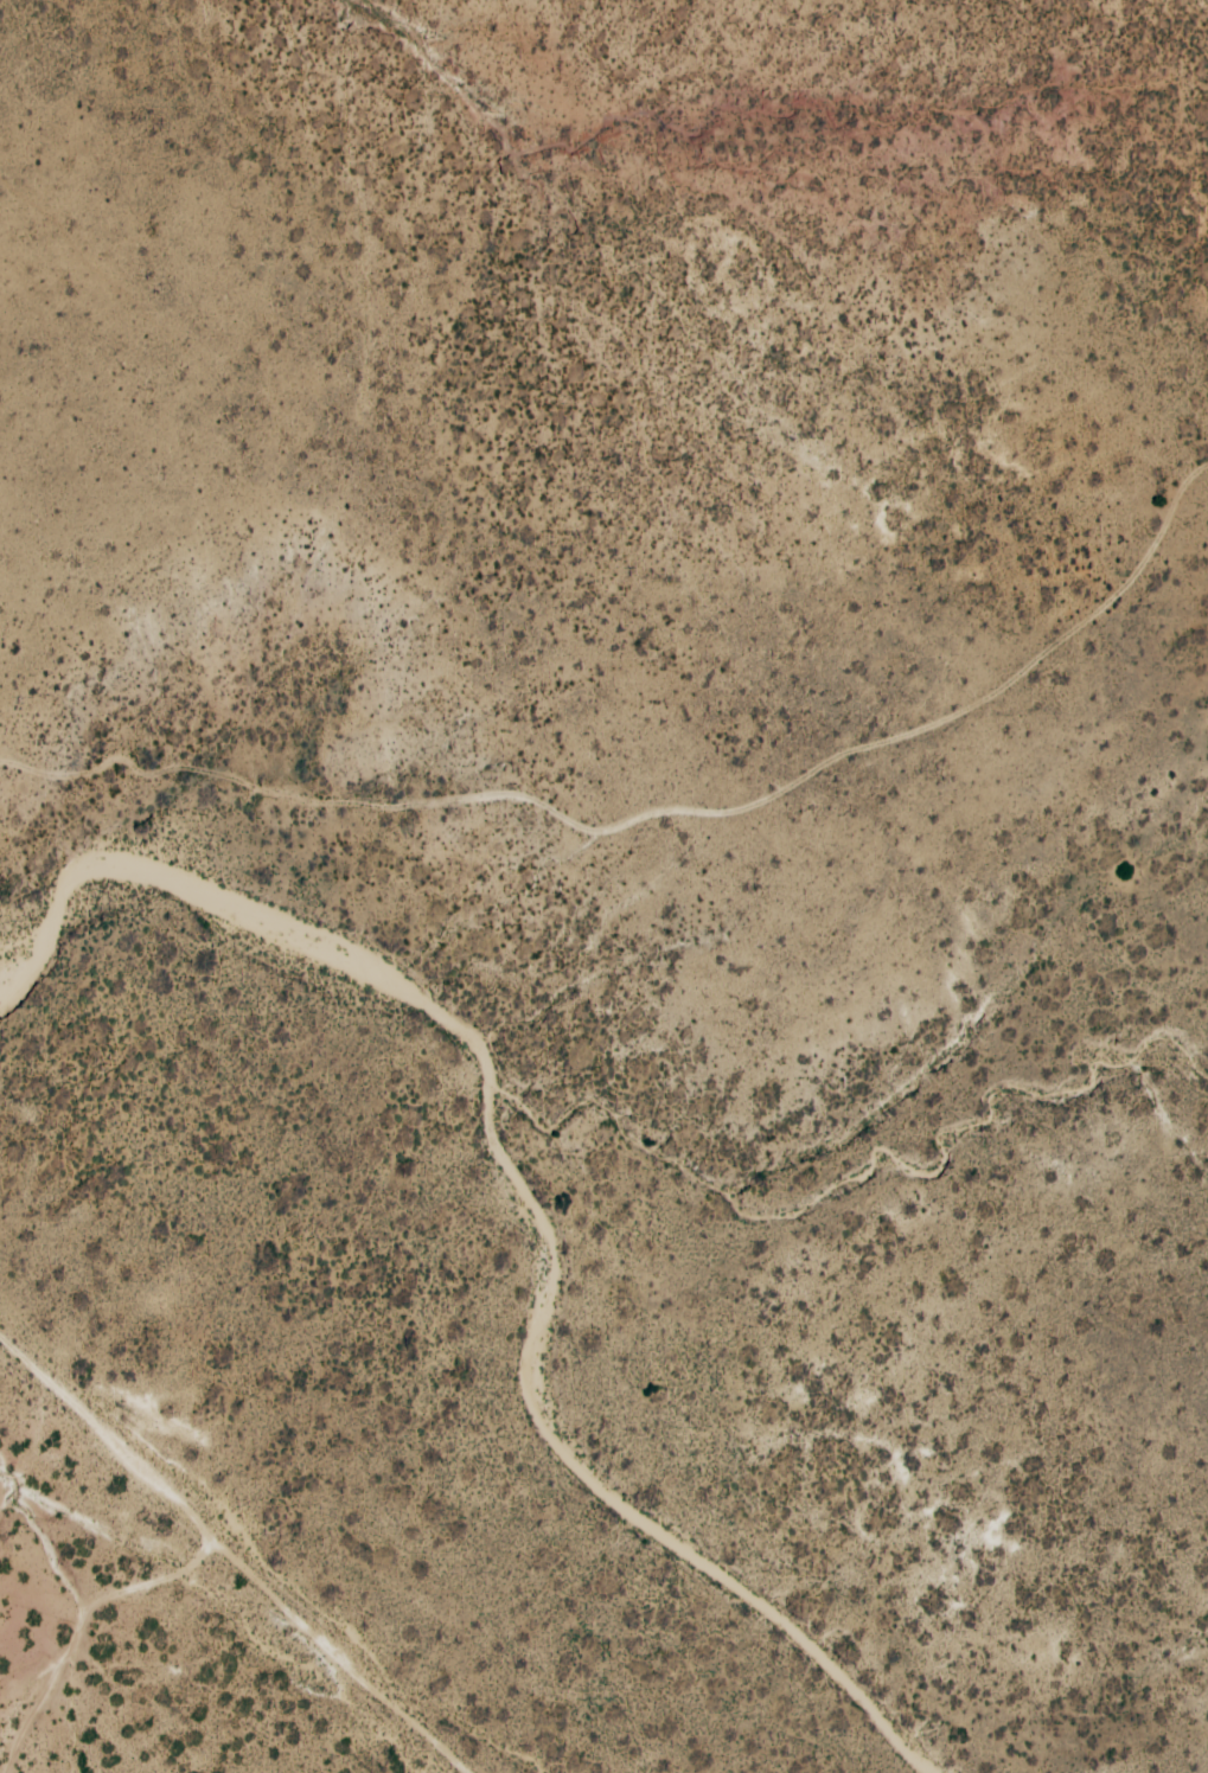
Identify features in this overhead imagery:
road: (229, 1547)

